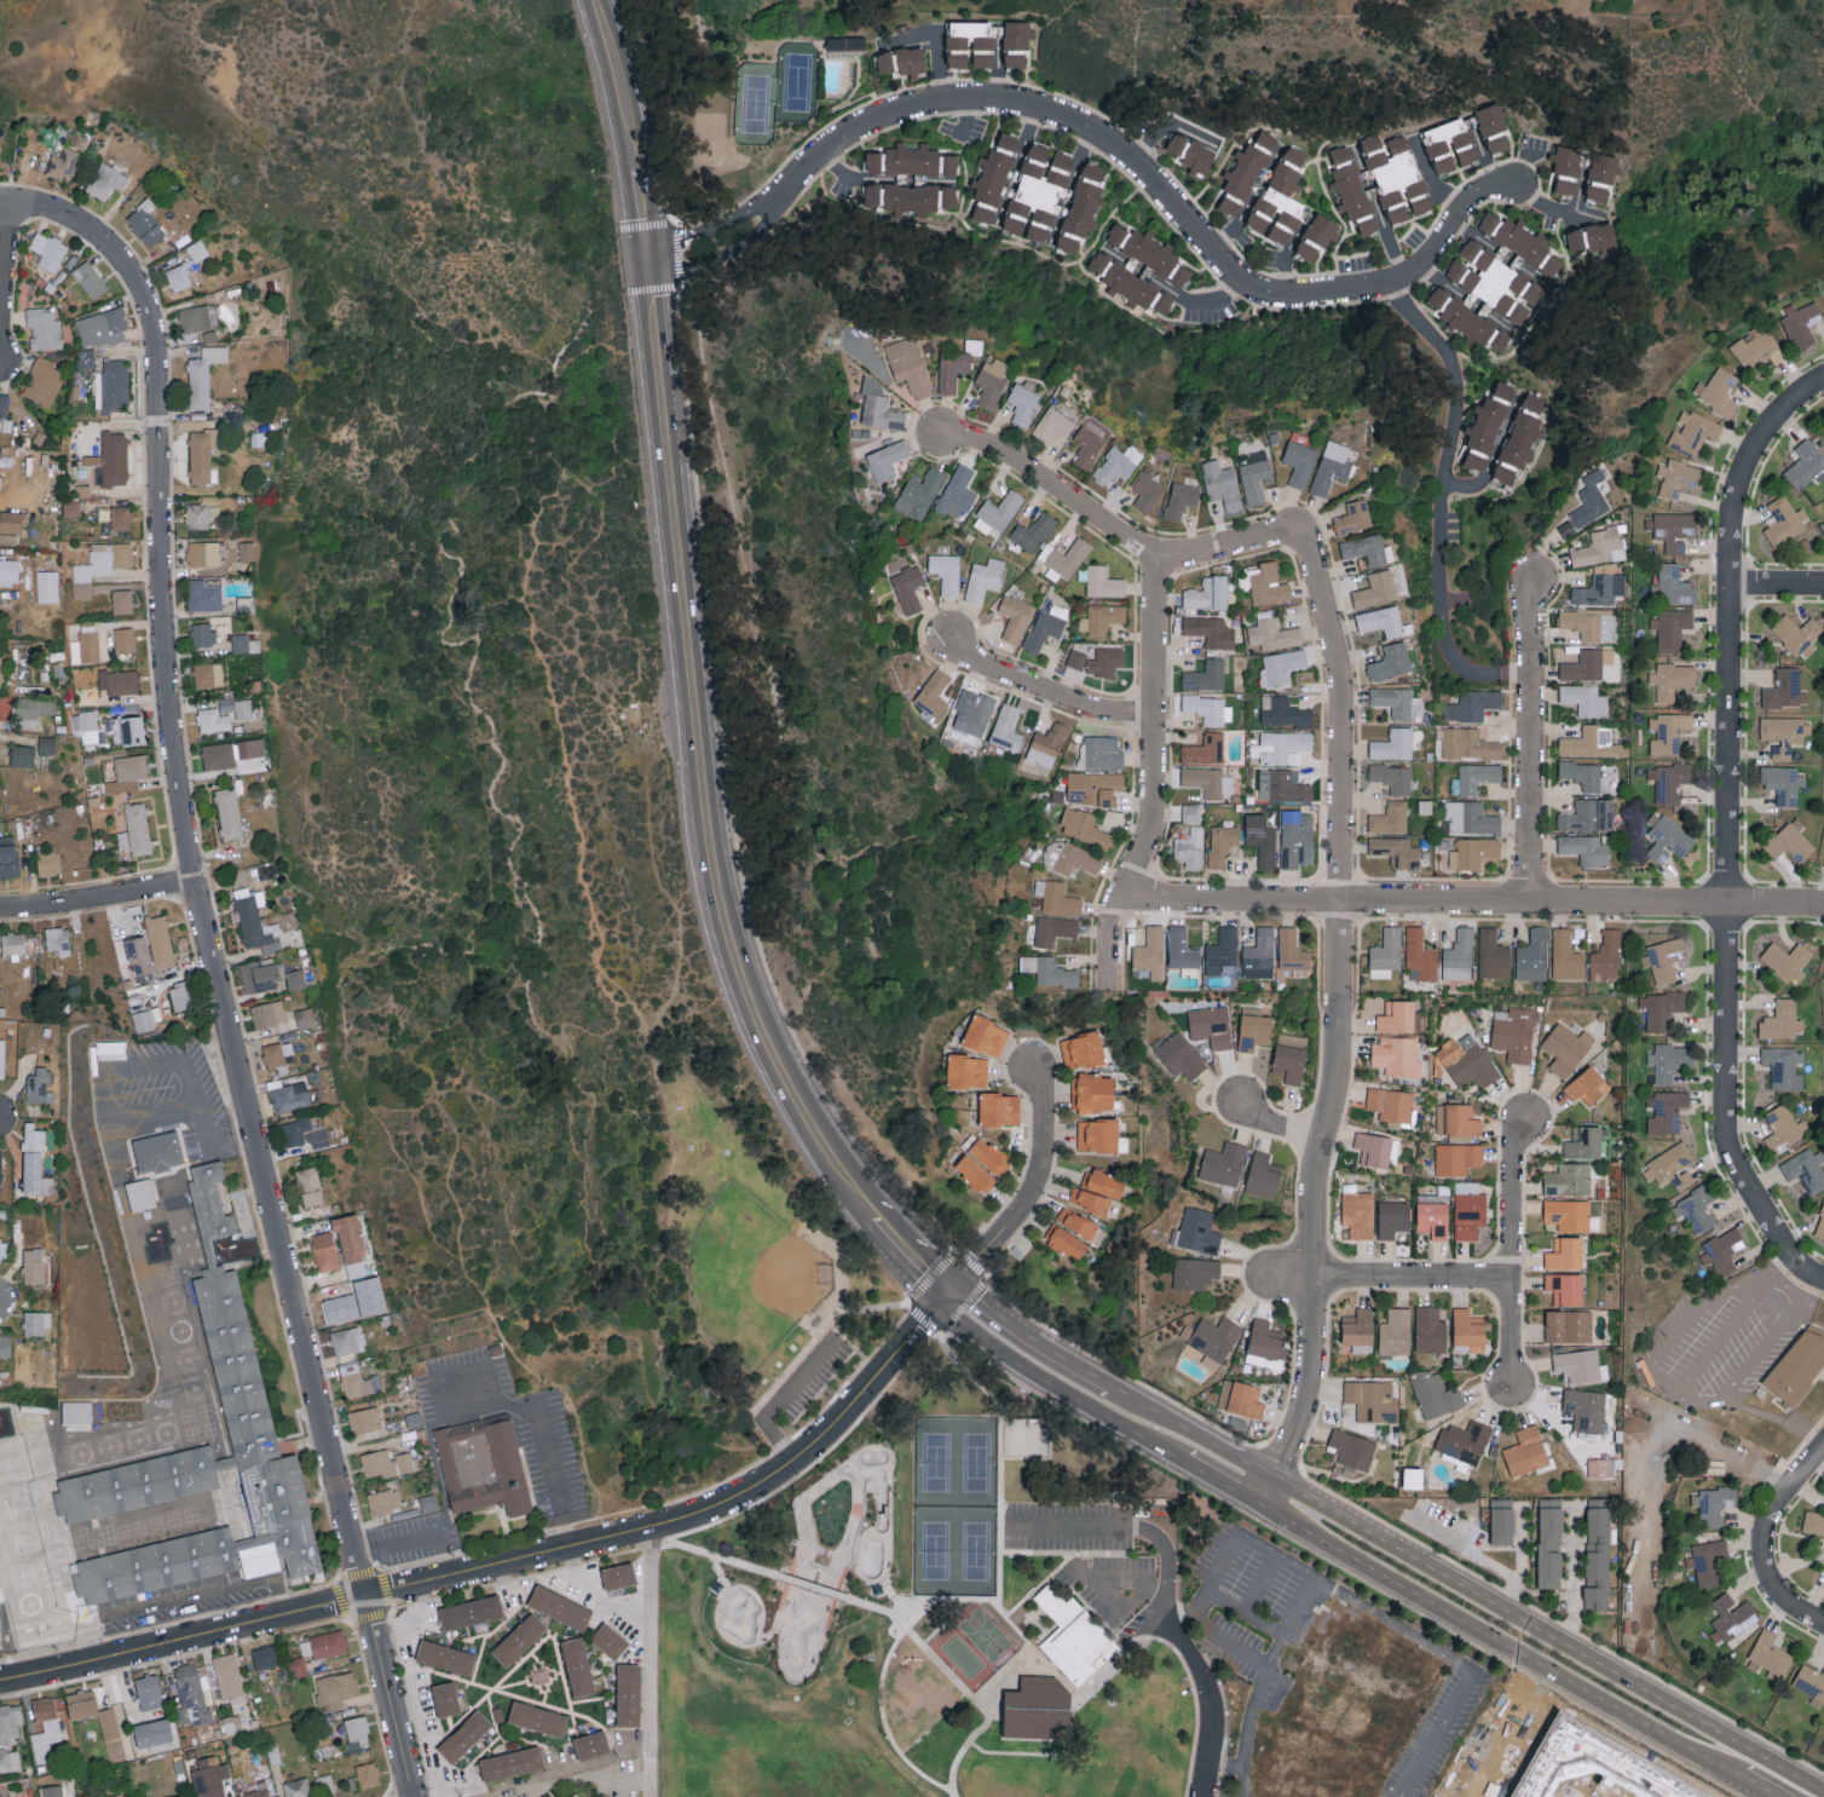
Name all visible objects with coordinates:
park: (1408, 2)
building: (845, 42)
building: (1016, 42)
building: (970, 44)
building: (902, 61)
road: (616, 80)
park: (797, 82)
park: (756, 104)
road: (965, 116)
building: (1494, 126)
building: (1451, 145)
building: (1191, 152)
building: (62, 162)
road: (835, 168)
building: (1566, 168)
building: (1246, 172)
building: (1601, 174)
building: (1396, 175)
building: (933, 179)
building: (993, 179)
building: (105, 180)
road: (1153, 180)
road: (1431, 180)
building: (1352, 188)
building: (1040, 194)
building: (1281, 198)
road: (1546, 201)
building: (1083, 202)
road: (6, 203)
road: (641, 209)
building: (145, 223)
road: (709, 235)
road: (1225, 235)
building: (1317, 235)
building: (1593, 237)
building: (1520, 241)
building: (48, 250)
traffic signals: (646, 258)
road: (717, 258)
building: (186, 266)
building: (1110, 267)
road: (1283, 275)
road: (6, 276)
building: (90, 278)
building: (1496, 284)
road: (1218, 298)
building: (195, 317)
building: (1470, 321)
building: (1801, 323)
building: (44, 327)
building: (102, 327)
road: (651, 333)
building: (974, 345)
building: (1757, 347)
building: (908, 364)
building: (952, 369)
building: (203, 374)
building: (992, 380)
building: (44, 381)
building: (111, 386)
building: (1719, 391)
building: (1022, 403)
building: (4, 404)
building: (879, 407)
building: (5, 424)
building: (1052, 425)
building: (1487, 427)
building: (1692, 432)
building: (1086, 445)
building: (202, 455)
building: (887, 459)
building: (110, 460)
building: (1118, 462)
building: (1299, 462)
building: (1805, 465)
building: (1331, 466)
building: (1256, 476)
building: (1679, 478)
building: (1222, 484)
building: (1145, 490)
building: (957, 491)
building: (919, 493)
building: (1182, 499)
building: (1589, 500)
road: (1435, 503)
building: (71, 507)
building: (998, 513)
building: (196, 514)
building: (120, 517)
building: (1353, 517)
building: (1784, 520)
building: (1822, 525)
building: (10, 526)
road: (1110, 528)
building: (1672, 529)
building: (1032, 531)
building: (1599, 546)
building: (1366, 547)
building: (247, 549)
building: (203, 553)
building: (1064, 558)
building: (99, 565)
building: (8, 571)
building: (946, 572)
park: (455, 576)
building: (983, 578)
building: (1103, 581)
building: (1268, 584)
building: (47, 586)
building: (1672, 586)
road: (1778, 587)
building: (908, 588)
building: (1375, 589)
building: (1599, 589)
building: (1208, 593)
building: (203, 595)
building: (122, 600)
building: (1014, 617)
building: (1102, 617)
building: (1383, 621)
road: (1531, 622)
building: (1588, 623)
building: (1046, 626)
building: (1670, 628)
building: (1210, 630)
building: (1271, 632)
building: (1797, 633)
building: (202, 634)
building: (125, 639)
building: (244, 643)
building: (85, 647)
building: (1097, 661)
building: (1390, 661)
building: (1587, 664)
building: (1280, 667)
building: (208, 674)
building: (1206, 675)
building: (1672, 679)
building: (117, 680)
building: (1784, 689)
road: (1043, 690)
building: (934, 693)
building: (1585, 699)
building: (1397, 701)
building: (226, 703)
building: (1472, 704)
building: (243, 708)
building: (1205, 708)
building: (33, 710)
building: (972, 712)
building: (1283, 712)
building: (212, 720)
building: (111, 724)
building: (1006, 727)
building: (1668, 732)
building: (1783, 733)
road: (564, 743)
building: (1468, 743)
building: (1591, 743)
building: (46, 744)
building: (1393, 744)
building: (1046, 745)
building: (250, 747)
building: (1281, 747)
building: (1205, 749)
building: (1103, 751)
building: (22, 755)
building: (219, 755)
building: (127, 773)
building: (1585, 774)
building: (1392, 777)
building: (1474, 777)
road: (1154, 781)
building: (1208, 781)
building: (1669, 781)
building: (1782, 783)
building: (1282, 785)
road: (1532, 787)
building: (1093, 788)
building: (229, 813)
building: (1191, 813)
road: (704, 816)
building: (1588, 816)
building: (1390, 818)
building: (1470, 818)
building: (1084, 828)
building: (135, 829)
road: (1731, 830)
building: (1297, 837)
building: (1262, 840)
building: (1669, 840)
building: (1790, 841)
building: (1222, 843)
building: (1190, 848)
building: (1586, 848)
building: (1396, 851)
building: (1473, 852)
building: (8, 856)
building: (1069, 858)
building: (48, 863)
road: (192, 866)
building: (1056, 897)
road: (97, 899)
road: (1473, 904)
building: (255, 922)
building: (1054, 929)
building: (58, 940)
building: (13, 941)
building: (160, 941)
building: (1181, 949)
building: (1222, 950)
building: (1150, 952)
building: (1292, 954)
building: (1386, 954)
building: (139, 955)
building: (1259, 955)
building: (1493, 955)
building: (1534, 955)
building: (1420, 956)
building: (1459, 956)
building: (1566, 956)
building: (1606, 956)
building: (1663, 958)
building: (1787, 960)
building: (1049, 971)
building: (259, 974)
building: (296, 979)
building: (1823, 979)
building: (180, 996)
road: (1344, 1004)
building: (1660, 1009)
building: (267, 1013)
building: (305, 1016)
building: (1398, 1018)
building: (143, 1020)
building: (1782, 1020)
building: (1211, 1025)
building: (1253, 1029)
building: (1516, 1033)
building: (986, 1036)
building: (1566, 1048)
building: (111, 1049)
building: (1083, 1050)
building: (278, 1054)
building: (1181, 1055)
building: (1396, 1055)
building: (1, 1058)
building: (1467, 1061)
building: (1669, 1061)
building: (1289, 1062)
building: (1784, 1066)
road: (138, 1067)
building: (966, 1071)
building: (37, 1085)
building: (1587, 1085)
parking lot: (158, 1093)
building: (1092, 1093)
park: (1822, 1093)
building: (293, 1096)
building: (1391, 1105)
building: (999, 1110)
building: (1666, 1111)
building: (1458, 1119)
road: (1278, 1124)
building: (1783, 1128)
building: (295, 1130)
building: (1097, 1135)
building: (33, 1137)
building: (319, 1139)
building: (1585, 1142)
building: (1376, 1148)
building: (157, 1151)
building: (989, 1156)
building: (1456, 1158)
building: (1223, 1163)
building: (0, 1165)
building: (1670, 1167)
building: (1806, 1169)
building: (975, 1173)
building: (35, 1175)
building: (1263, 1175)
building: (1568, 1179)
building: (308, 1186)
building: (1097, 1191)
road: (1032, 1193)
building: (143, 1200)
building: (210, 1203)
building: (1695, 1210)
building: (1358, 1214)
building: (1468, 1214)
building: (1568, 1214)
building: (1392, 1219)
building: (1433, 1220)
building: (1076, 1222)
building: (1820, 1222)
building: (1196, 1231)
building: (1066, 1242)
building: (351, 1244)
road: (895, 1248)
building: (4, 1249)
building: (324, 1251)
building: (1722, 1251)
road: (1514, 1252)
road: (954, 1254)
building: (1565, 1254)
building: (33, 1266)
road: (1777, 1268)
building: (1195, 1272)
park: (741, 1279)
road: (1291, 1279)
road: (1414, 1279)
park: (755, 1280)
building: (1565, 1288)
traffic signals: (948, 1294)
building: (339, 1303)
road: (849, 1309)
building: (36, 1323)
building: (1568, 1324)
building: (1358, 1329)
building: (1430, 1329)
building: (1468, 1329)
building: (1395, 1331)
road: (1028, 1334)
building: (1214, 1338)
building: (347, 1340)
parking lot: (1722, 1342)
building: (1264, 1343)
building: (5, 1344)
road: (1761, 1352)
building: (1580, 1364)
building: (1799, 1367)
road: (1661, 1376)
road: (1130, 1378)
building: (357, 1381)
parking lot: (806, 1386)
road: (1051, 1386)
building: (1224, 1393)
building: (1435, 1393)
building: (1246, 1399)
building: (1372, 1399)
road: (781, 1401)
road: (503, 1404)
building: (1586, 1407)
building: (76, 1412)
building: (364, 1419)
road: (1193, 1432)
building: (1464, 1440)
road: (1652, 1445)
building: (1352, 1448)
building: (1525, 1450)
building: (387, 1463)
road: (1188, 1463)
building: (1597, 1465)
building: (480, 1467)
parking lot: (552, 1470)
road: (1187, 1480)
building: (204, 1481)
road: (1231, 1488)
road: (1272, 1494)
building: (383, 1502)
building: (427, 1503)
building: (1713, 1504)
park: (956, 1507)
road: (1000, 1511)
building: (1501, 1520)
building: (1813, 1522)
parking lot: (1068, 1526)
road: (1080, 1530)
parking lot: (417, 1539)
building: (1549, 1542)
road: (1765, 1544)
road: (398, 1545)
road: (1063, 1553)
building: (1597, 1553)
road: (1275, 1557)
building: (1707, 1560)
road: (514, 1565)
road: (1796, 1567)
park: (801, 1568)
road: (1079, 1574)
building: (619, 1577)
road: (503, 1579)
road: (1258, 1584)
road: (1039, 1585)
road: (1159, 1591)
road: (179, 1600)
parking lot: (178, 1602)
road: (599, 1602)
building: (559, 1611)
road: (1195, 1611)
road: (891, 1612)
building: (471, 1613)
road: (1546, 1614)
building: (1732, 1615)
park: (934, 1619)
building: (1646, 1622)
park: (985, 1635)
road: (1551, 1635)
building: (1073, 1636)
building: (0, 1640)
road: (1228, 1641)
building: (611, 1642)
building: (519, 1643)
road: (1510, 1653)
building: (1771, 1654)
building: (265, 1655)
road: (1190, 1655)
park: (962, 1657)
building: (445, 1658)
road: (654, 1661)
road: (1455, 1663)
building: (296, 1664)
building: (578, 1669)
road: (1265, 1672)
road: (1057, 1674)
road: (1005, 1675)
building: (229, 1677)
building: (1809, 1682)
building: (335, 1688)
building: (149, 1692)
road: (1195, 1693)
building: (190, 1694)
road: (388, 1694)
building: (629, 1698)
building: (446, 1703)
building: (1037, 1709)
building: (92, 1711)
building: (536, 1722)
building: (47, 1729)
building: (152, 1730)
building: (357, 1732)
building: (10, 1735)
building: (461, 1736)
building: (590, 1746)
road: (634, 1749)
road: (1044, 1752)
building: (510, 1766)
building: (366, 1774)
building: (209, 1776)
road: (624, 1778)
road: (1243, 1782)
building: (325, 1784)
building: (296, 1787)
building: (52, 1790)
road: (445, 1790)
building: (258, 1792)
park: (901, 1793)
building: (114, 1795)
building: (575, 1795)
building: (177, 1796)

